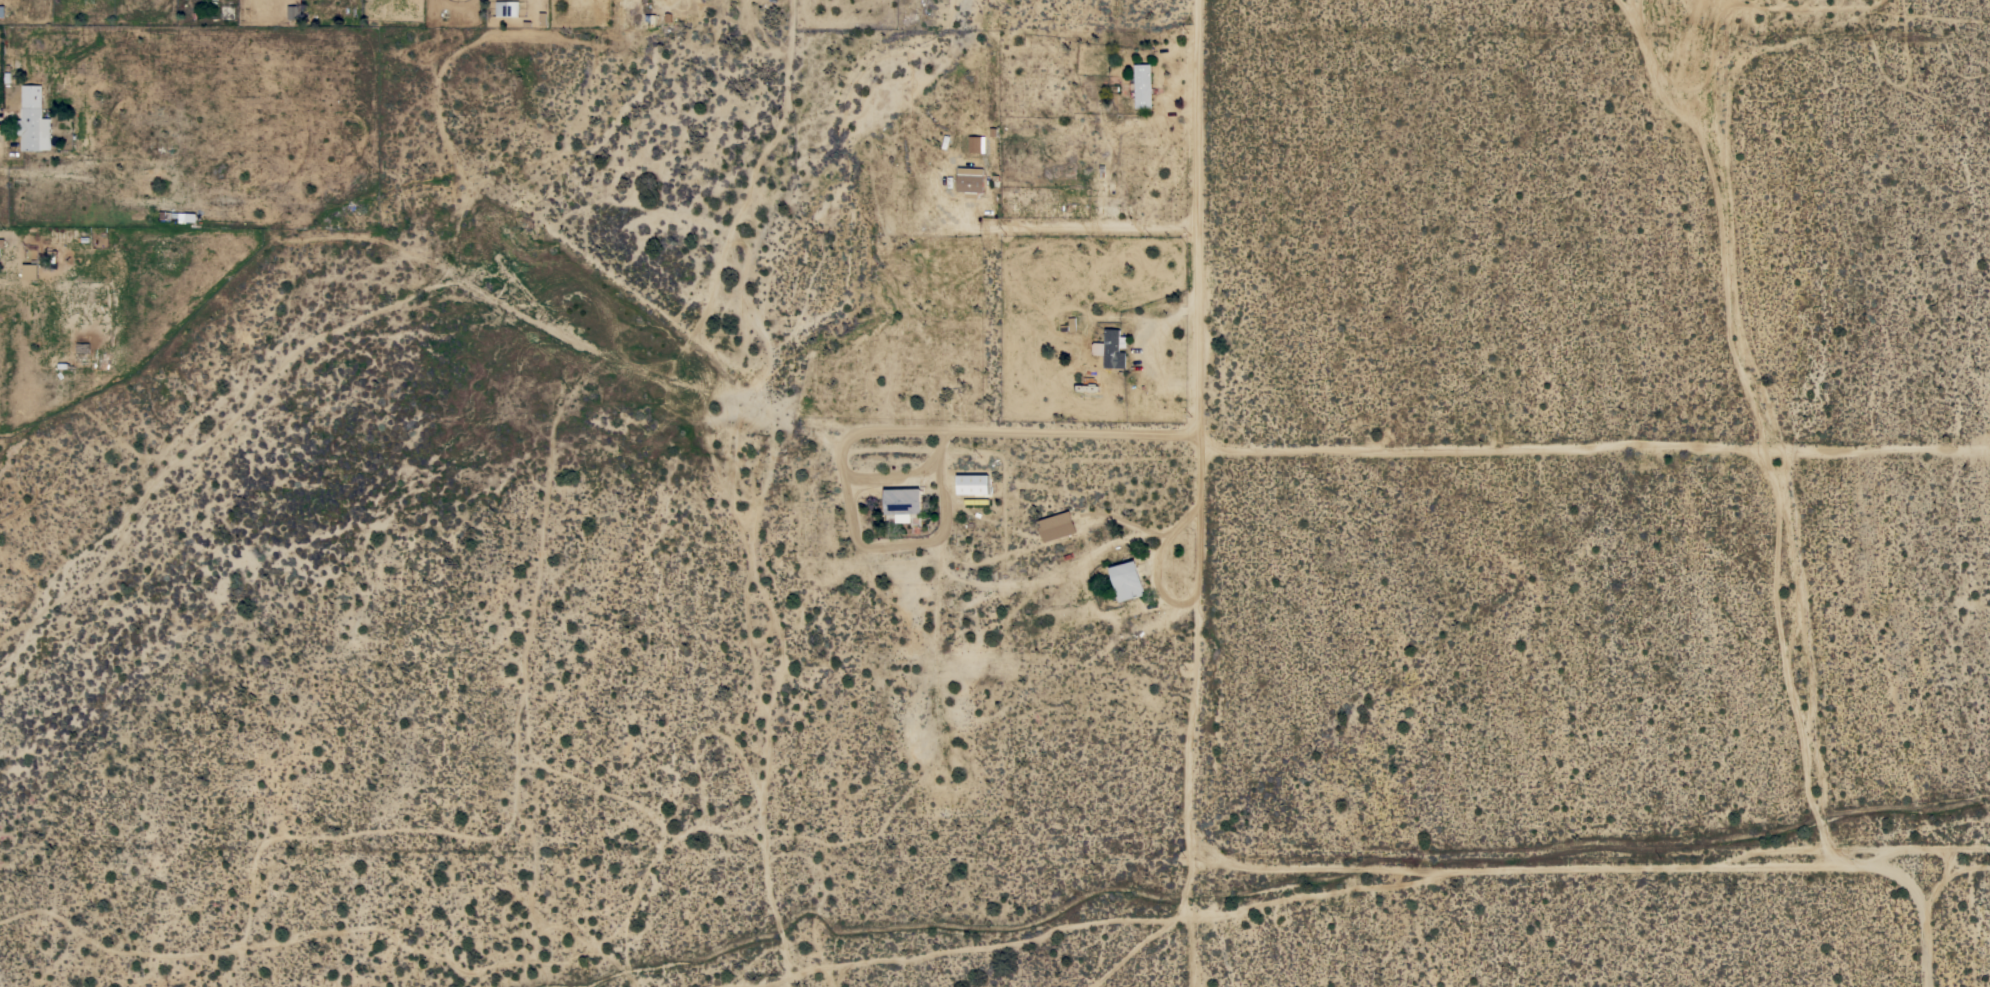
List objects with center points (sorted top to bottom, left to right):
building: (87, 1)
building: (507, 8)
building: (2, 11)
building: (293, 11)
building: (1142, 85)
building: (33, 120)
building: (970, 181)
building: (164, 215)
road: (1725, 216)
road: (1073, 227)
building: (2, 244)
building: (52, 256)
building: (30, 271)
building: (82, 348)
building: (1111, 348)
road: (1023, 434)
road: (1596, 447)
road: (896, 473)
building: (973, 484)
road: (1200, 493)
building: (902, 502)
building: (1056, 526)
road: (896, 543)
building: (1126, 581)

